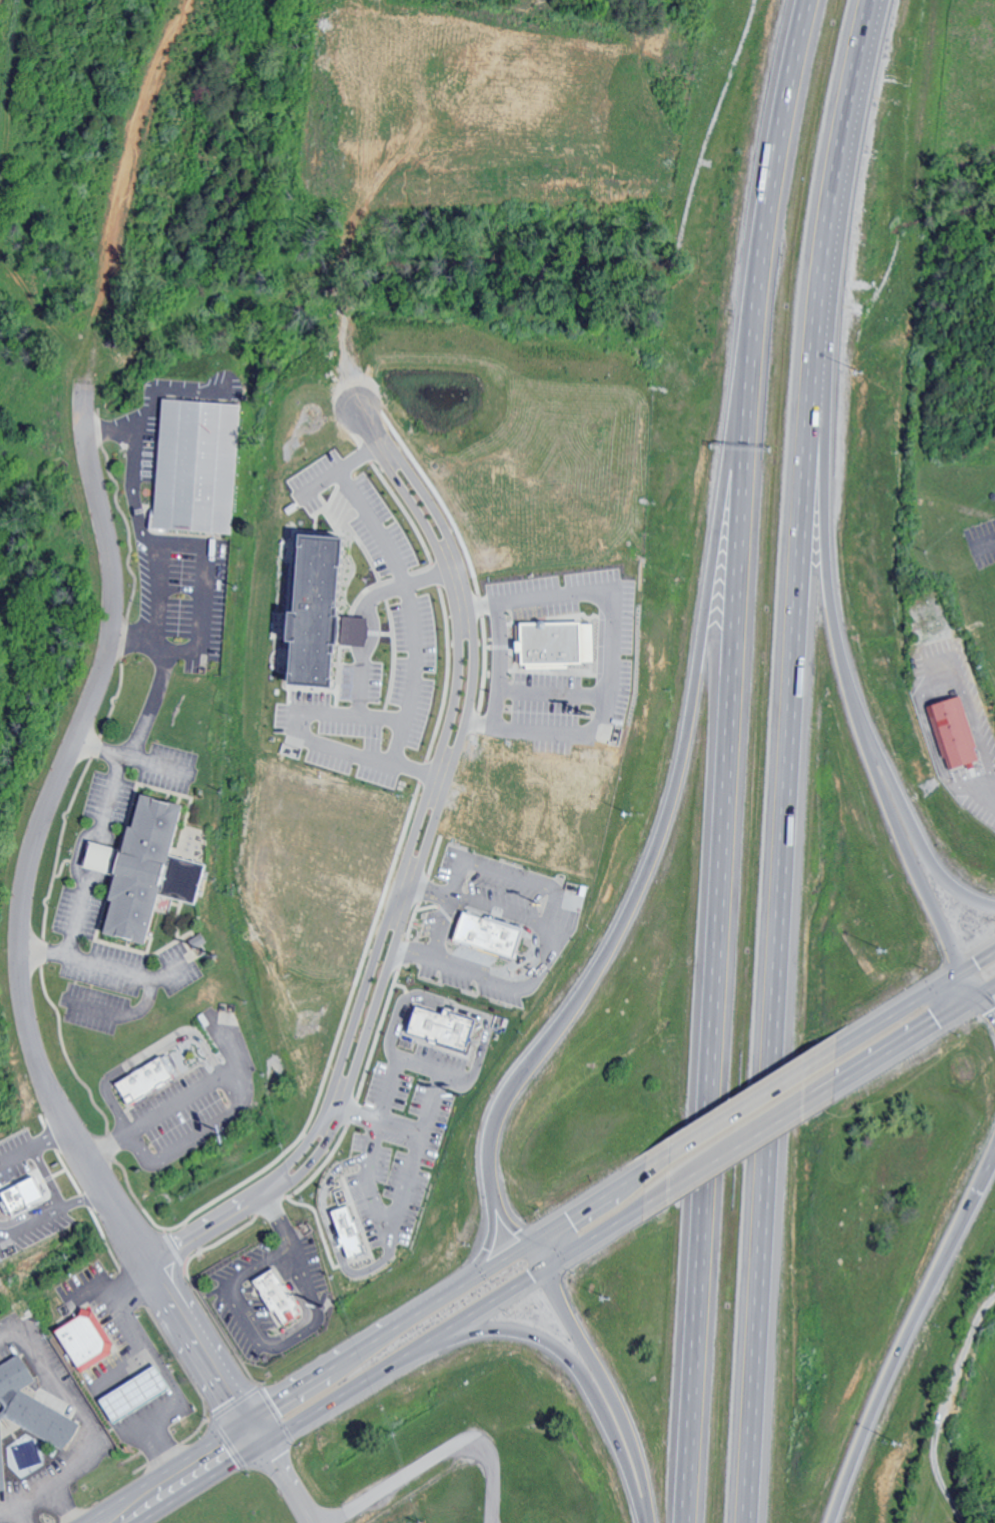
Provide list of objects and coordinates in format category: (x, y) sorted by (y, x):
road: (369, 426)
building: (199, 466)
road: (141, 526)
road: (990, 540)
road: (404, 586)
road: (371, 611)
building: (296, 612)
road: (839, 638)
building: (543, 644)
road: (610, 648)
road: (497, 663)
road: (917, 673)
road: (551, 693)
road: (146, 714)
building: (951, 732)
road: (315, 742)
road: (727, 759)
road: (787, 759)
road: (669, 799)
road: (76, 866)
building: (159, 870)
road: (508, 874)
road: (914, 875)
road: (425, 885)
road: (19, 920)
road: (440, 926)
building: (497, 933)
road: (411, 953)
road: (545, 960)
traffic signals: (952, 974)
road: (968, 992)
road: (913, 997)
traffic signals: (978, 999)
building: (448, 1024)
road: (914, 1039)
road: (148, 1052)
road: (421, 1063)
road: (235, 1072)
building: (154, 1079)
road: (738, 1107)
road: (33, 1147)
road: (740, 1147)
road: (49, 1176)
road: (408, 1181)
road: (274, 1187)
building: (30, 1195)
road: (52, 1212)
road: (277, 1219)
road: (489, 1221)
road: (207, 1228)
building: (356, 1230)
traffic signals: (527, 1240)
traffic signals: (553, 1264)
building: (282, 1296)
building: (89, 1337)
road: (908, 1337)
road: (263, 1343)
road: (360, 1344)
road: (393, 1361)
road: (576, 1365)
road: (597, 1365)
road: (115, 1376)
building: (13, 1377)
building: (139, 1393)
building: (46, 1419)
road: (435, 1457)
building: (3, 1459)
road: (280, 1469)

